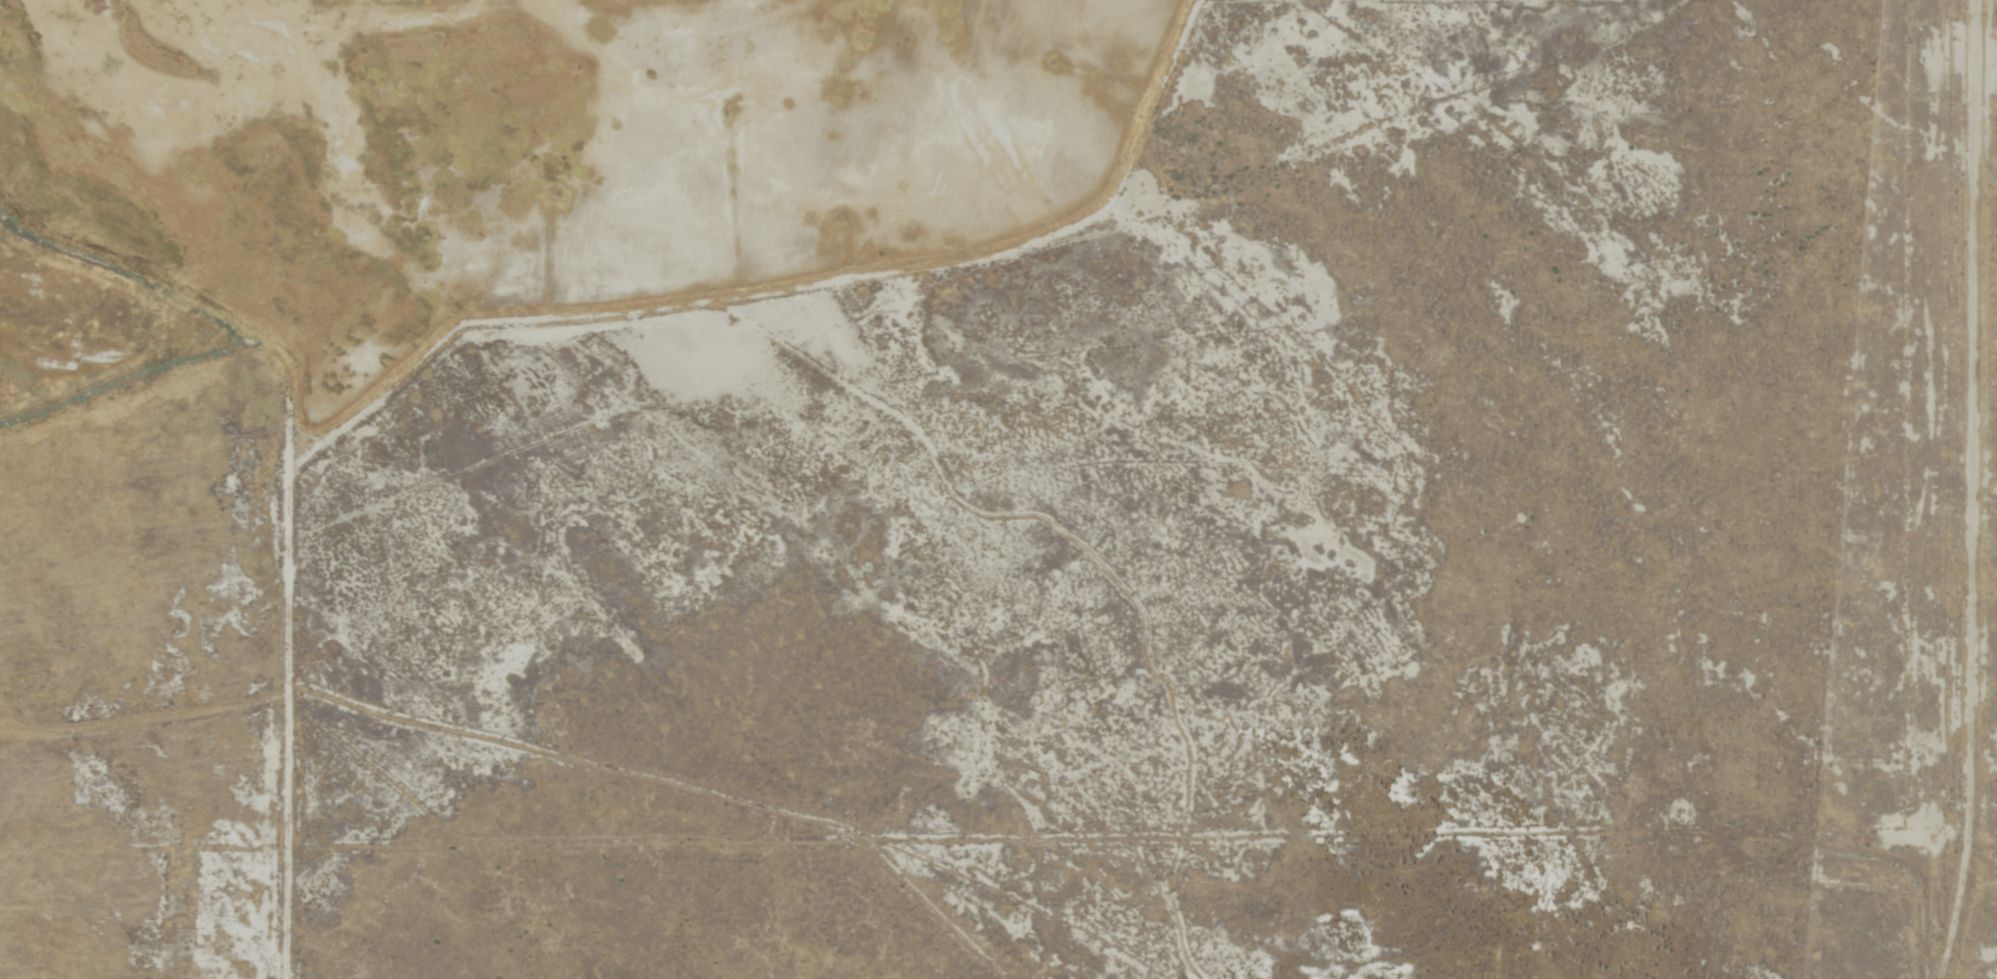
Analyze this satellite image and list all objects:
road: (1967, 491)

